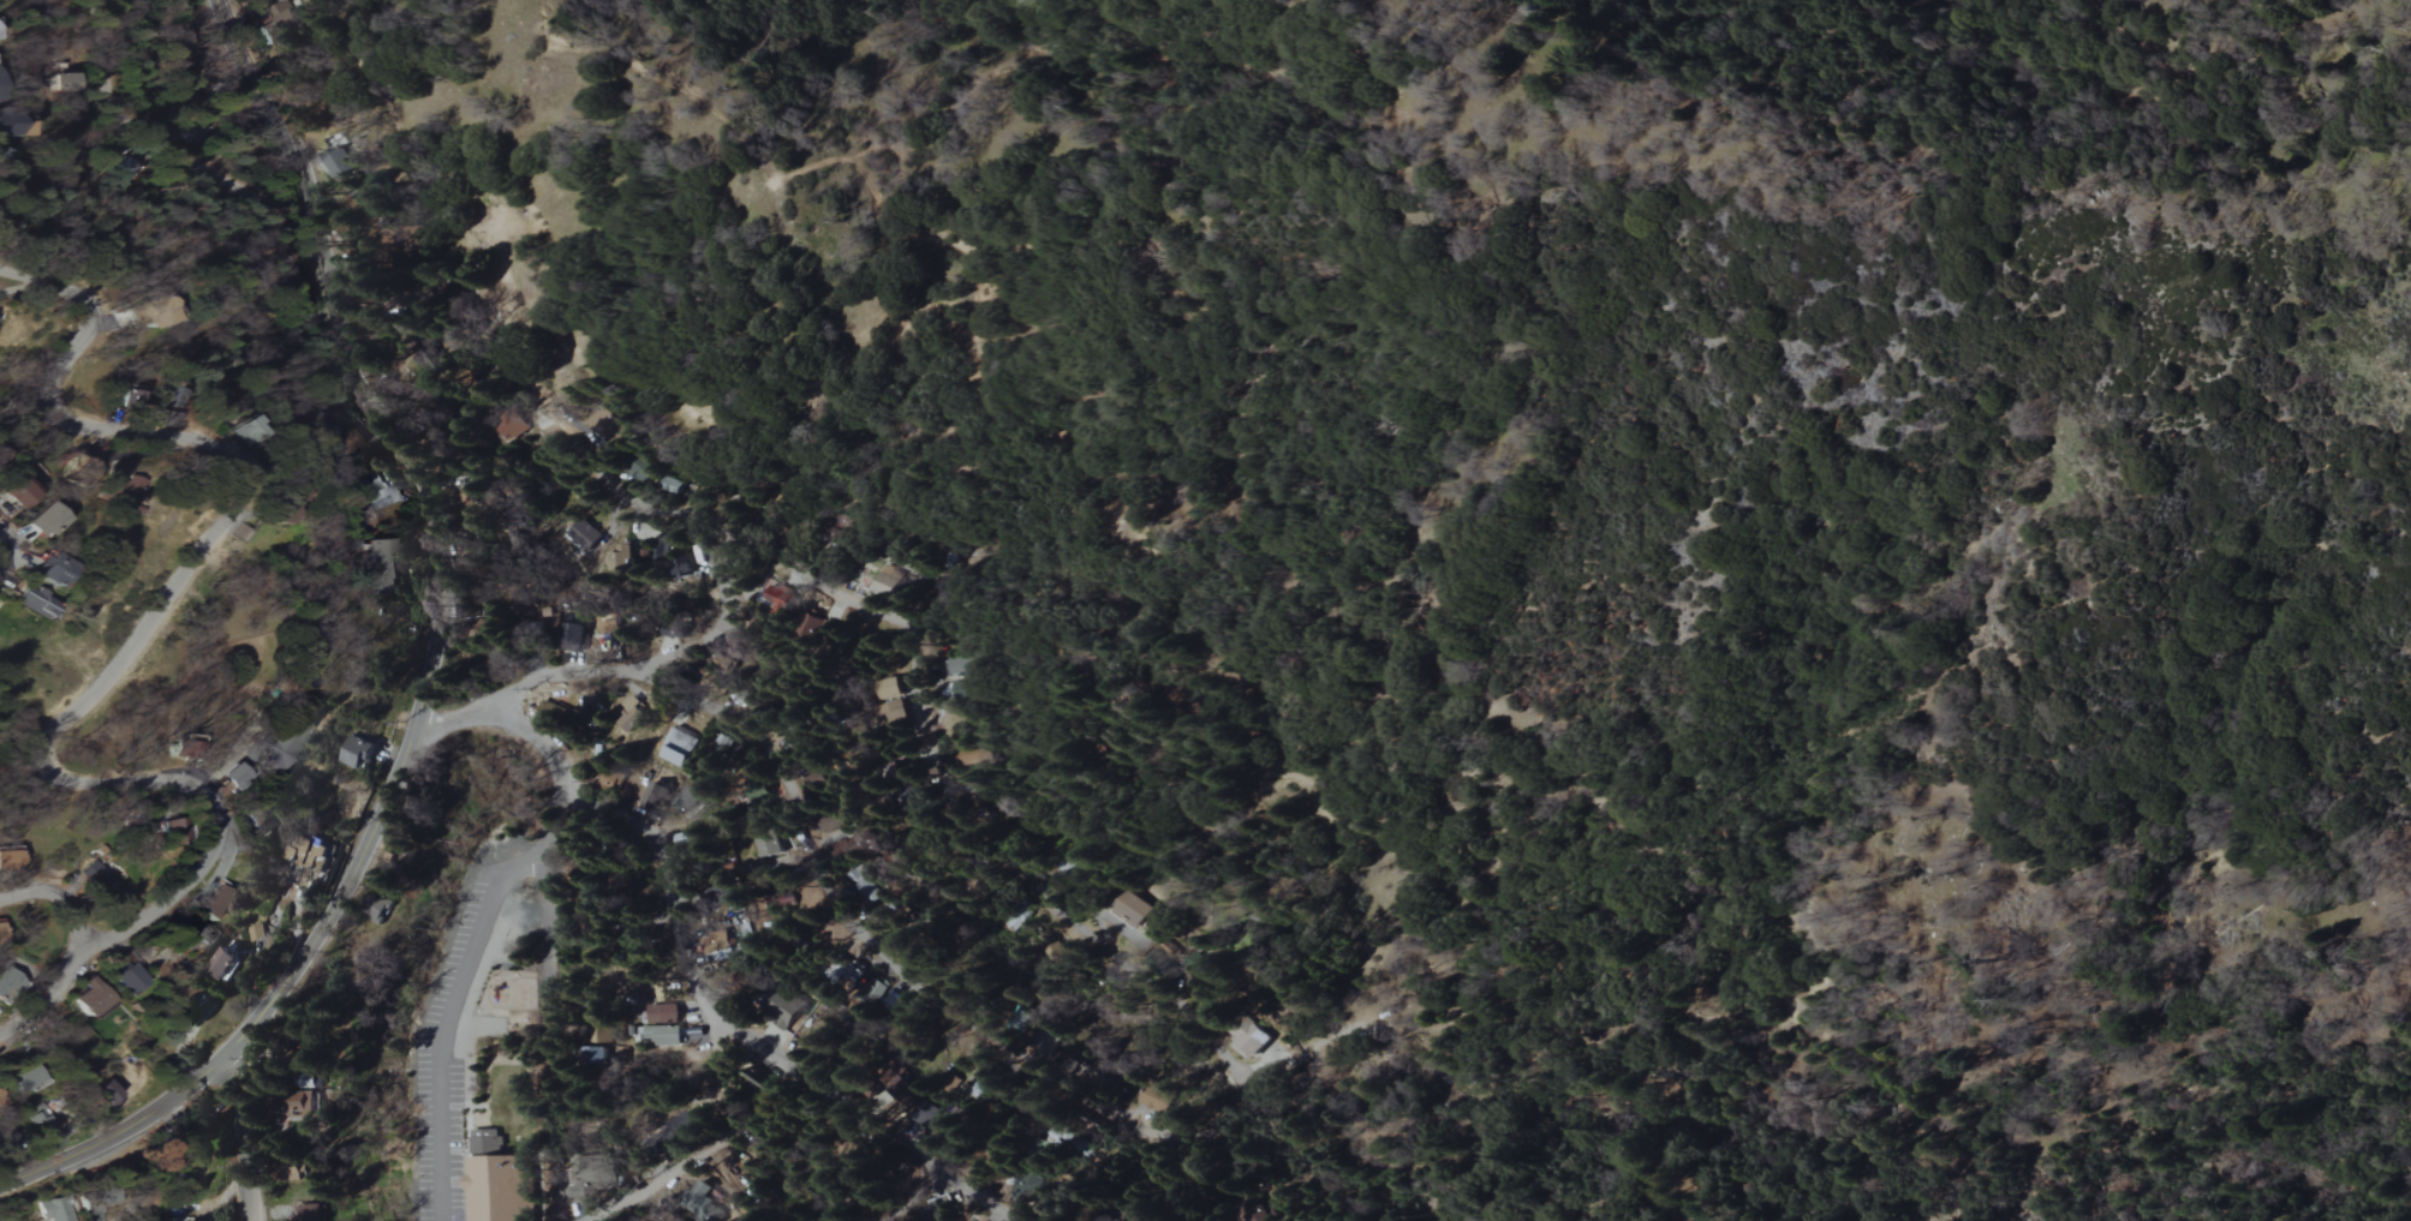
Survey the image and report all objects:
building: (276, 24)
road: (244, 74)
building: (8, 120)
building: (344, 160)
road: (205, 166)
building: (121, 172)
road: (20, 288)
building: (143, 316)
building: (608, 427)
building: (335, 429)
building: (246, 431)
building: (130, 486)
building: (376, 491)
building: (20, 496)
building: (46, 521)
building: (585, 534)
building: (644, 552)
building: (53, 568)
building: (382, 568)
building: (887, 581)
building: (778, 598)
building: (34, 600)
road: (716, 629)
road: (119, 664)
building: (963, 665)
building: (969, 689)
building: (628, 708)
road: (511, 716)
building: (551, 716)
road: (414, 742)
building: (281, 747)
building: (357, 753)
building: (235, 774)
building: (654, 795)
building: (168, 828)
building: (11, 860)
building: (101, 882)
road: (667, 894)
building: (215, 904)
road: (59, 905)
building: (1136, 909)
building: (256, 934)
building: (223, 963)
building: (127, 976)
road: (1168, 981)
building: (7, 983)
building: (95, 1002)
road: (553, 1002)
building: (664, 1013)
road: (446, 1017)
building: (662, 1036)
building: (1251, 1043)
building: (597, 1057)
building: (30, 1077)
building: (989, 1083)
road: (829, 1091)
building: (37, 1118)
road: (241, 1141)
building: (487, 1143)
road: (709, 1151)
road: (117, 1179)
building: (497, 1189)
road: (907, 1195)
road: (973, 1195)
building: (60, 1209)
road: (1942, 1209)
building: (310, 1211)

